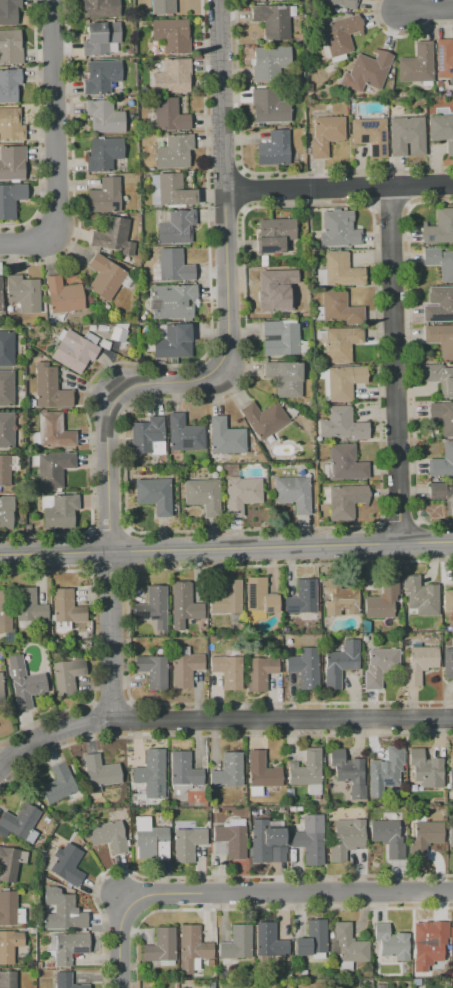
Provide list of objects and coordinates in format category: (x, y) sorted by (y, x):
building: (344, 3)
building: (162, 6)
building: (99, 8)
building: (8, 12)
road: (429, 12)
building: (272, 20)
building: (171, 35)
building: (340, 36)
building: (100, 38)
building: (10, 47)
building: (443, 58)
building: (270, 62)
building: (416, 64)
building: (366, 71)
building: (100, 76)
building: (171, 76)
building: (9, 85)
building: (269, 106)
building: (168, 115)
building: (104, 117)
building: (11, 124)
building: (441, 131)
building: (325, 134)
building: (370, 134)
building: (407, 136)
building: (273, 148)
road: (56, 151)
building: (174, 151)
building: (103, 153)
building: (12, 163)
road: (341, 187)
building: (170, 190)
building: (104, 196)
building: (11, 199)
building: (176, 227)
building: (439, 228)
building: (338, 230)
building: (274, 235)
building: (113, 236)
building: (440, 262)
building: (173, 265)
building: (339, 271)
building: (104, 277)
building: (23, 293)
building: (0, 295)
building: (63, 295)
building: (275, 295)
building: (172, 301)
building: (438, 304)
building: (338, 308)
building: (118, 335)
building: (279, 338)
building: (440, 339)
building: (173, 342)
building: (338, 343)
building: (6, 348)
building: (74, 350)
road: (398, 364)
building: (284, 377)
building: (439, 378)
road: (199, 380)
building: (341, 381)
building: (49, 387)
building: (6, 388)
building: (443, 416)
building: (263, 419)
building: (341, 424)
building: (6, 430)
building: (52, 431)
building: (184, 433)
building: (147, 436)
building: (224, 437)
building: (442, 462)
building: (344, 464)
building: (52, 468)
building: (4, 470)
building: (293, 493)
building: (241, 494)
building: (154, 495)
building: (202, 495)
building: (442, 495)
building: (343, 501)
building: (58, 510)
building: (6, 512)
road: (226, 548)
building: (259, 596)
building: (421, 596)
building: (227, 597)
building: (302, 597)
building: (340, 599)
building: (381, 600)
building: (447, 600)
building: (29, 605)
building: (184, 606)
building: (153, 608)
building: (66, 610)
building: (5, 611)
building: (75, 626)
building: (448, 662)
building: (340, 663)
building: (419, 664)
building: (380, 666)
building: (305, 667)
building: (185, 669)
building: (152, 670)
building: (228, 670)
building: (259, 672)
building: (67, 676)
building: (24, 683)
building: (1, 690)
road: (220, 713)
building: (184, 769)
building: (425, 769)
building: (150, 770)
building: (99, 771)
building: (227, 771)
building: (262, 771)
building: (306, 771)
building: (348, 772)
building: (385, 772)
building: (450, 779)
building: (60, 785)
building: (18, 822)
building: (108, 834)
building: (450, 834)
building: (387, 837)
building: (424, 837)
building: (346, 838)
building: (150, 839)
building: (230, 839)
building: (310, 839)
building: (187, 842)
building: (266, 842)
building: (10, 863)
building: (65, 864)
road: (238, 891)
building: (10, 909)
building: (68, 913)
building: (452, 931)
building: (312, 939)
building: (269, 941)
building: (391, 942)
building: (236, 943)
building: (432, 943)
building: (349, 944)
building: (9, 945)
building: (160, 945)
building: (67, 946)
building: (192, 948)
building: (452, 957)
building: (8, 979)
building: (67, 981)

